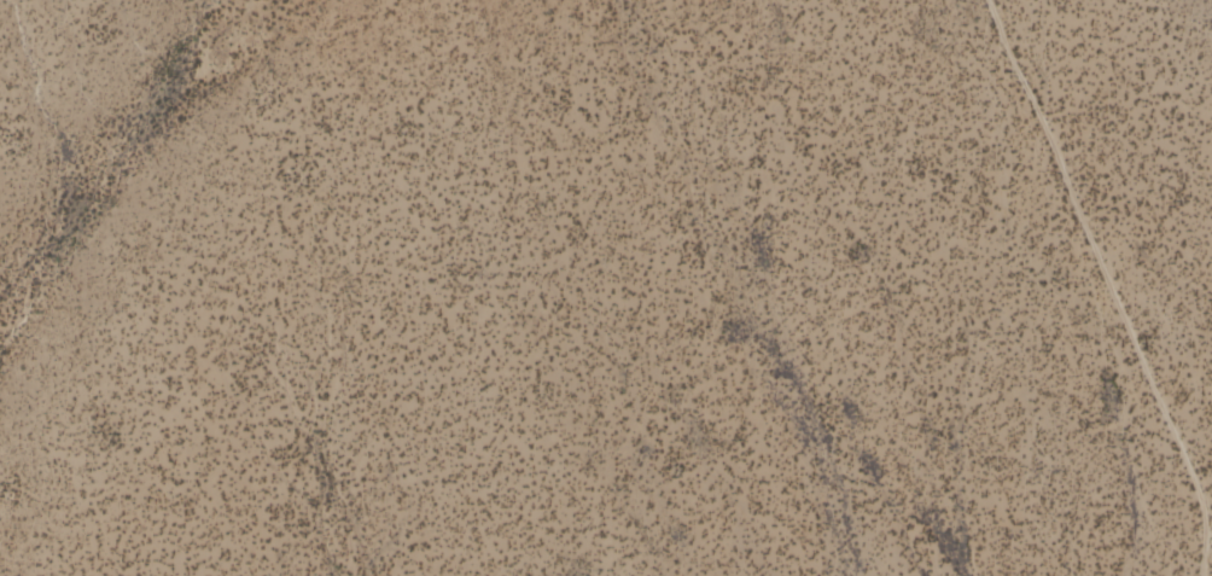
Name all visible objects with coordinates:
road: (1106, 284)

